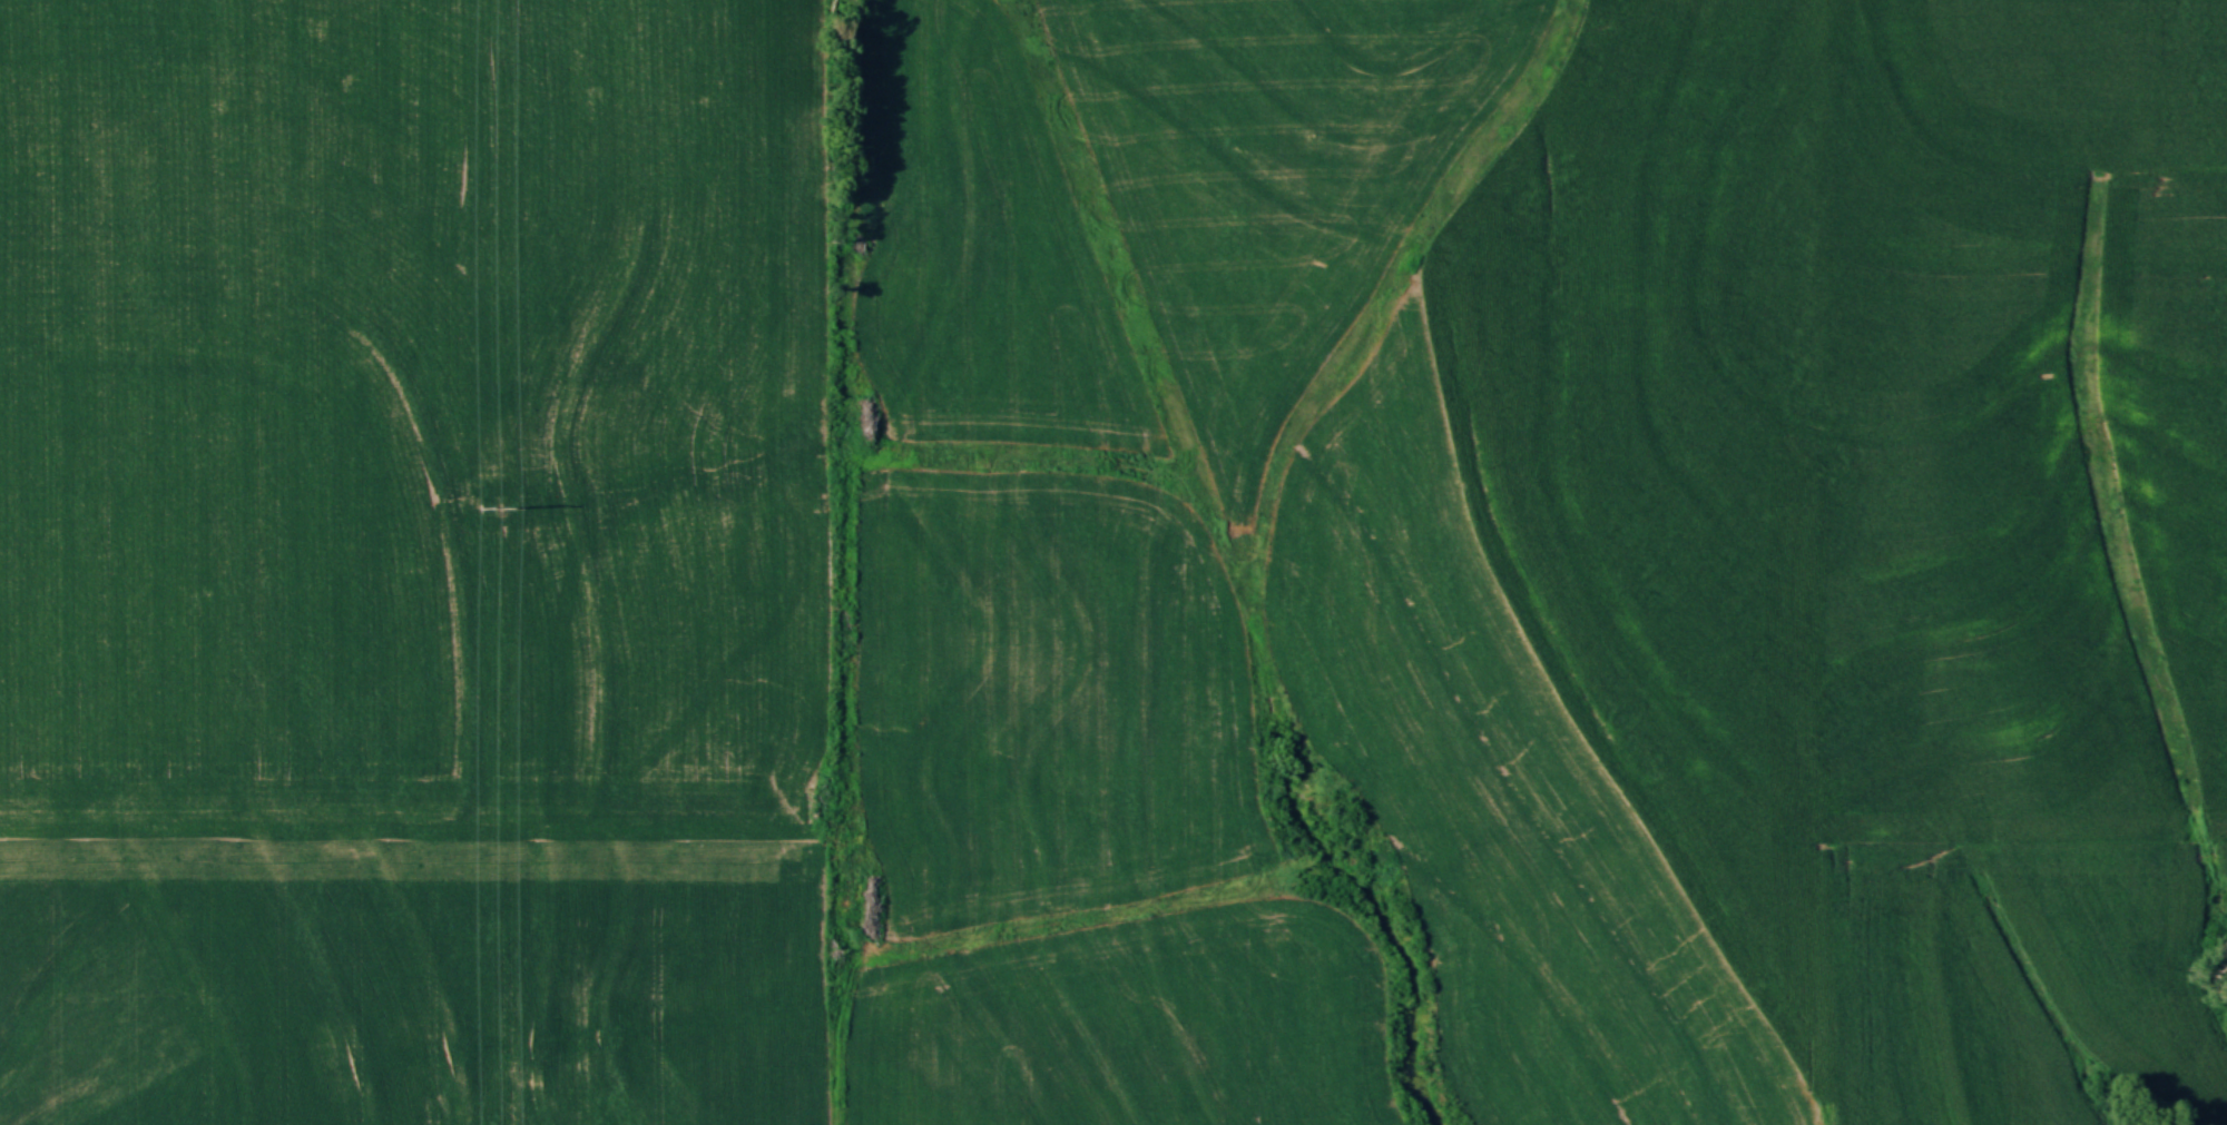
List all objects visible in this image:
power tower: (492, 506)

